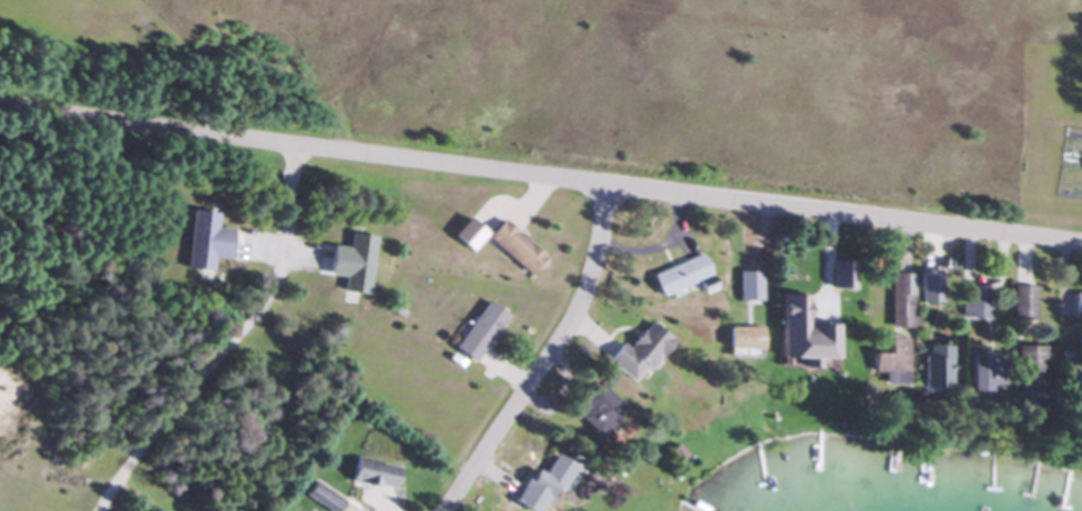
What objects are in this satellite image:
road: (540, 176)
building: (466, 235)
building: (202, 241)
road: (652, 242)
building: (511, 247)
building: (349, 263)
building: (678, 276)
building: (843, 283)
building: (926, 288)
building: (898, 300)
building: (1019, 302)
building: (971, 303)
building: (1075, 303)
building: (476, 331)
building: (739, 338)
road: (227, 343)
building: (633, 352)
road: (547, 357)
building: (885, 362)
building: (930, 367)
building: (1022, 368)
building: (979, 372)
building: (1071, 378)
building: (593, 410)
building: (369, 473)
building: (554, 476)
building: (320, 495)

